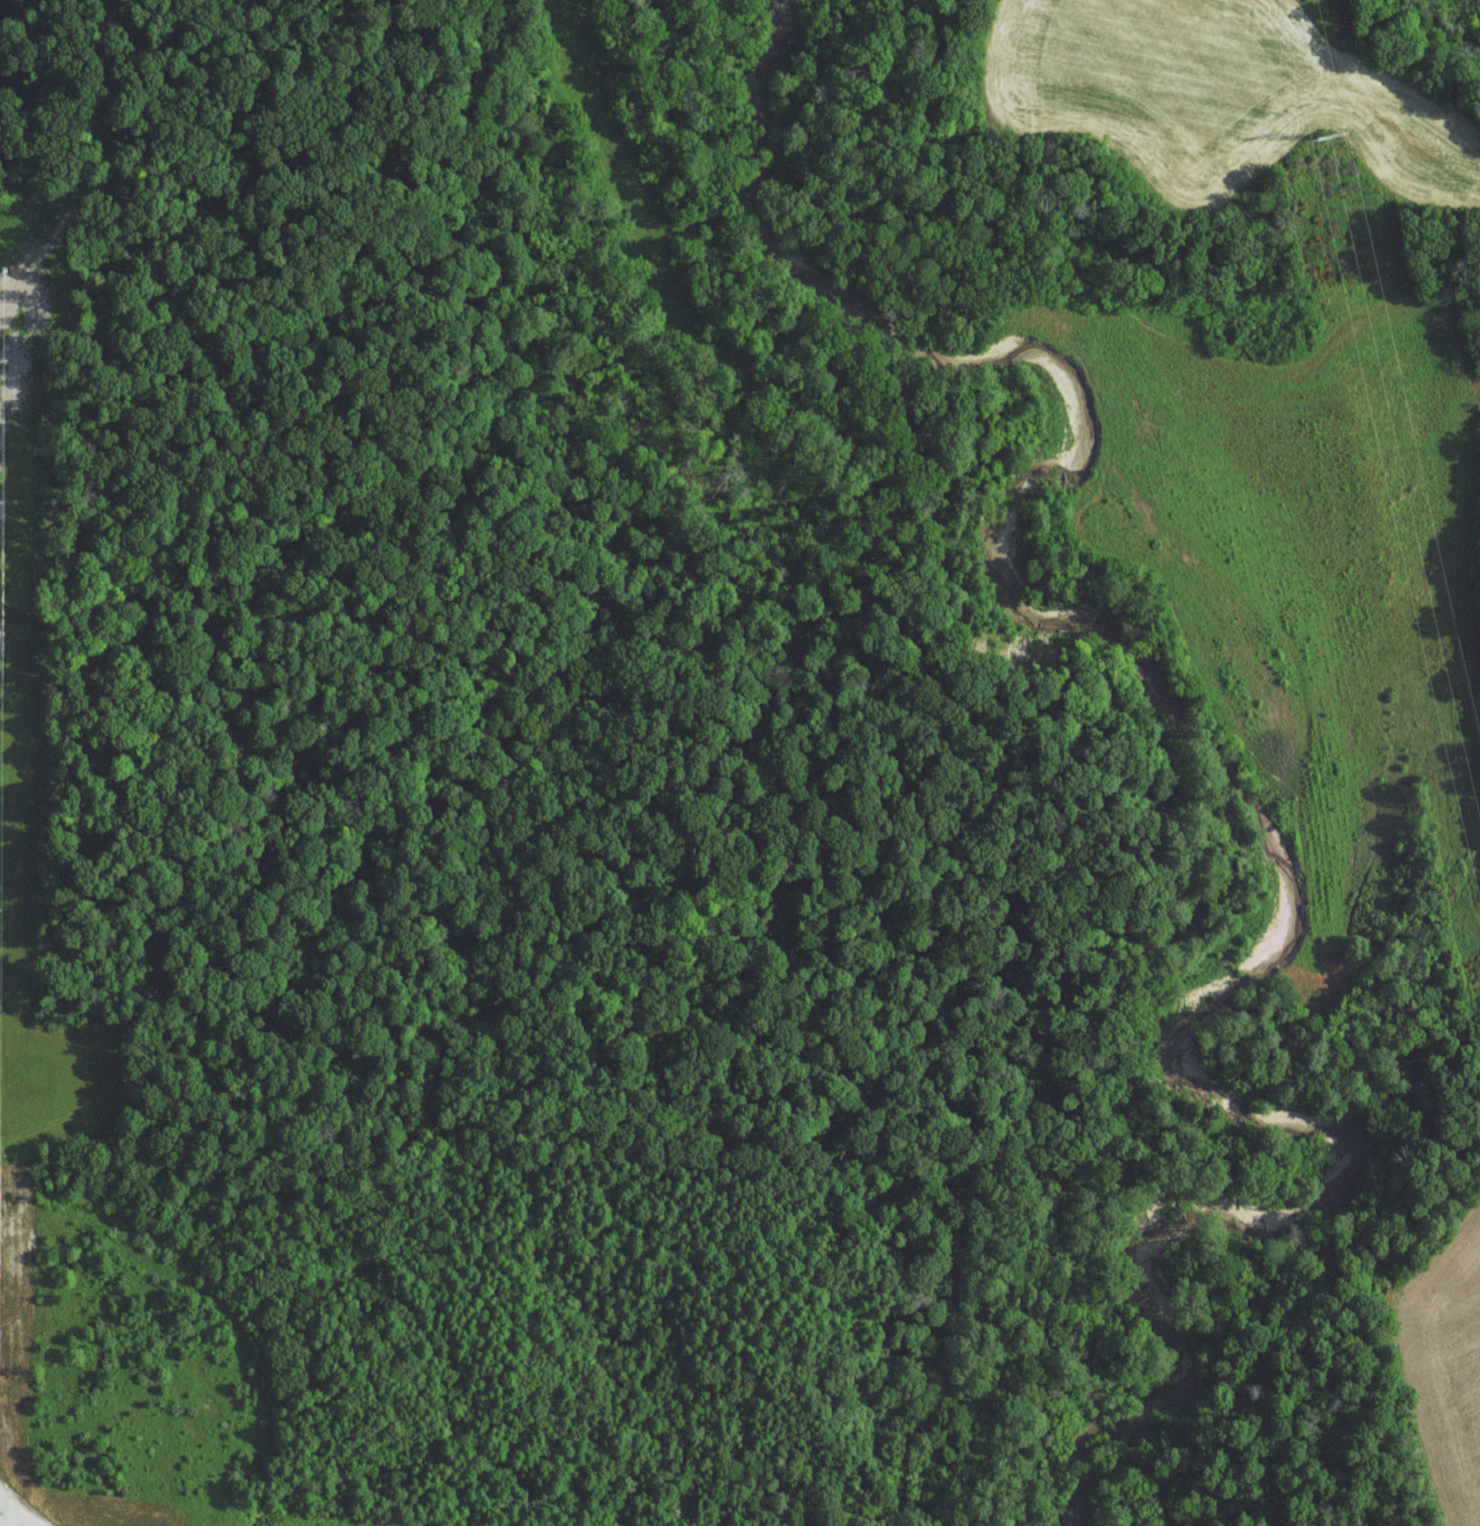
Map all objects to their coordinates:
power tower: (1330, 134)

